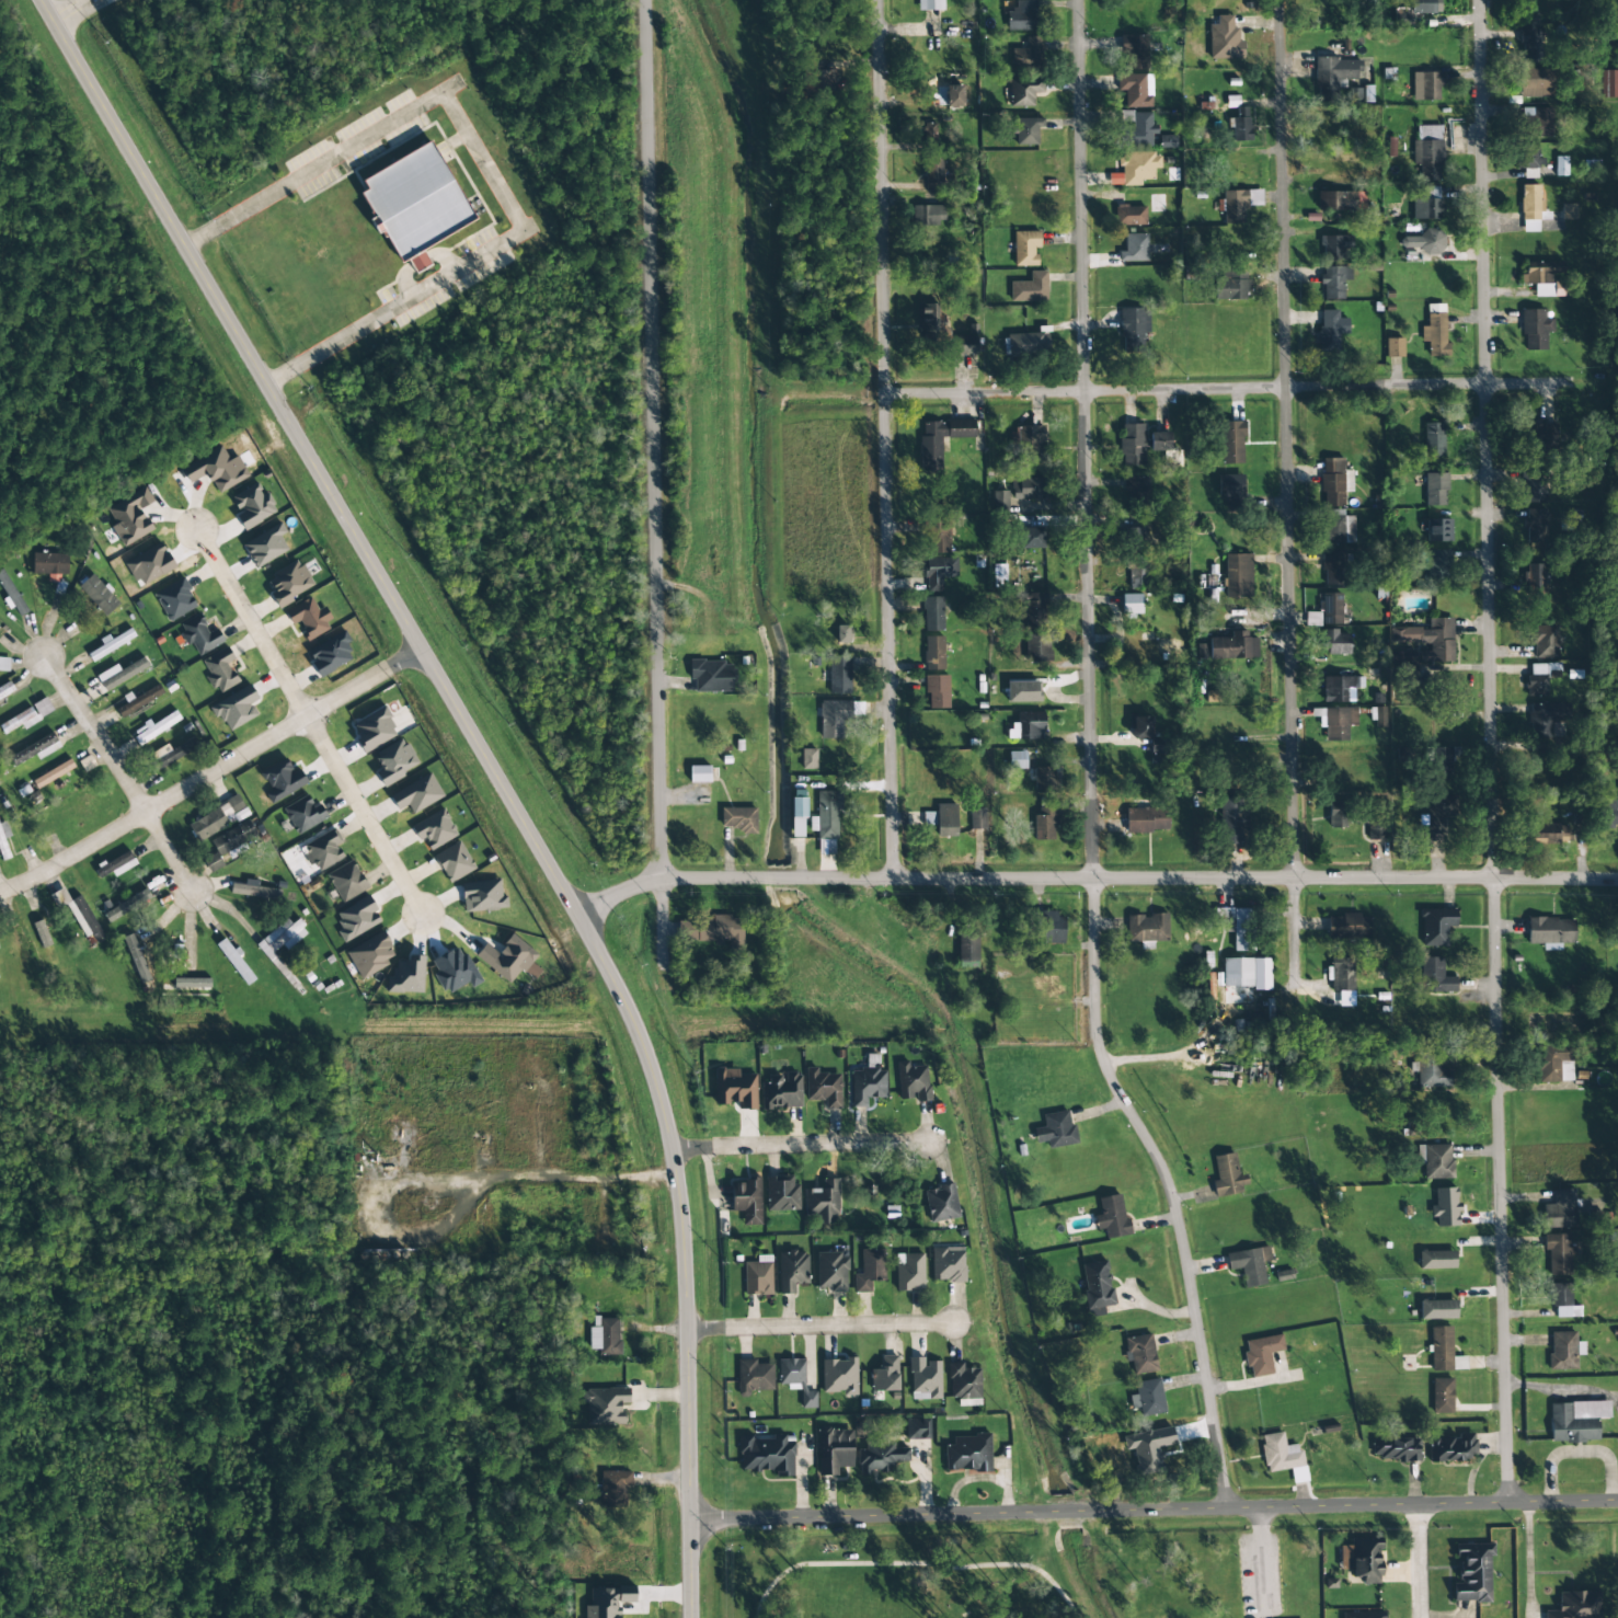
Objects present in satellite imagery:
building: (929, 4)
building: (1424, 7)
building: (1022, 16)
building: (1224, 38)
building: (1530, 45)
building: (1135, 50)
building: (1028, 55)
building: (1333, 77)
building: (821, 81)
building: (1535, 82)
building: (1608, 83)
building: (1426, 87)
building: (1135, 90)
building: (1023, 92)
building: (954, 95)
building: (1231, 101)
building: (1537, 123)
building: (1240, 125)
building: (1026, 130)
building: (1139, 130)
building: (929, 133)
building: (1427, 152)
building: (1528, 156)
building: (1561, 167)
building: (1136, 169)
building: (933, 170)
building: (1529, 173)
building: (1156, 200)
building: (416, 204)
building: (1426, 204)
building: (1237, 205)
building: (1531, 208)
building: (1569, 211)
building: (928, 216)
building: (1129, 216)
building: (1424, 241)
building: (1334, 246)
building: (1025, 249)
building: (1135, 249)
building: (1334, 282)
building: (1545, 282)
building: (1231, 286)
building: (1030, 288)
building: (931, 323)
building: (1133, 329)
building: (1535, 329)
building: (1331, 330)
building: (1435, 331)
building: (1028, 342)
building: (963, 345)
building: (1393, 347)
road: (1104, 390)
building: (1544, 434)
road: (884, 439)
building: (1028, 439)
building: (1434, 440)
building: (1159, 441)
building: (1231, 443)
building: (1133, 444)
building: (931, 455)
building: (216, 469)
road: (654, 482)
building: (1334, 482)
building: (1533, 485)
building: (1230, 486)
building: (1028, 489)
building: (1435, 490)
building: (1134, 494)
road: (1287, 494)
building: (999, 502)
building: (253, 506)
building: (130, 517)
building: (1536, 527)
building: (1338, 528)
building: (1438, 530)
building: (936, 536)
building: (1032, 538)
building: (266, 546)
building: (1137, 555)
building: (50, 565)
building: (1437, 566)
building: (1332, 569)
building: (937, 572)
building: (1238, 575)
building: (1215, 577)
building: (1535, 577)
building: (289, 583)
building: (11, 595)
building: (99, 595)
building: (175, 599)
building: (1132, 604)
building: (932, 613)
building: (309, 618)
building: (1035, 630)
building: (842, 634)
building: (199, 635)
building: (1428, 640)
building: (1544, 641)
building: (1334, 642)
building: (112, 643)
building: (1228, 647)
building: (933, 653)
building: (330, 654)
building: (4, 664)
building: (1404, 664)
building: (220, 670)
building: (121, 674)
building: (839, 674)
building: (712, 676)
building: (1540, 678)
building: (1340, 688)
building: (5, 690)
building: (937, 691)
building: (1022, 691)
building: (139, 700)
building: (236, 709)
building: (27, 716)
building: (833, 718)
building: (1547, 720)
road: (309, 721)
building: (1335, 722)
building: (1026, 726)
building: (154, 727)
building: (1140, 727)
building: (375, 730)
building: (35, 749)
building: (173, 751)
road: (1491, 753)
building: (808, 759)
building: (1441, 760)
building: (394, 761)
road: (1090, 766)
road: (491, 769)
building: (1034, 771)
road: (211, 772)
building: (53, 773)
road: (119, 773)
building: (699, 774)
building: (282, 780)
building: (417, 794)
building: (1605, 813)
building: (305, 814)
building: (797, 814)
building: (1336, 815)
building: (1437, 815)
building: (217, 818)
building: (737, 819)
building: (977, 819)
building: (1045, 819)
building: (826, 821)
building: (945, 821)
building: (1147, 821)
building: (1231, 821)
building: (1376, 828)
building: (435, 829)
building: (1550, 834)
building: (233, 838)
building: (3, 841)
building: (322, 850)
building: (215, 862)
building: (454, 862)
building: (116, 865)
road: (1093, 880)
building: (346, 881)
building: (255, 891)
building: (483, 896)
building: (126, 906)
building: (79, 915)
building: (357, 919)
building: (1225, 920)
building: (1048, 926)
building: (1436, 926)
building: (1349, 927)
building: (1147, 929)
building: (711, 930)
building: (1550, 932)
building: (42, 933)
building: (280, 941)
building: (967, 945)
building: (371, 955)
building: (507, 959)
building: (236, 962)
building: (454, 971)
building: (1247, 973)
building: (406, 976)
building: (1433, 977)
building: (1342, 978)
building: (192, 983)
building: (1554, 1063)
building: (1431, 1068)
building: (911, 1082)
building: (865, 1085)
building: (823, 1088)
building: (735, 1089)
building: (780, 1091)
building: (1055, 1129)
road: (801, 1146)
building: (1437, 1161)
building: (1226, 1177)
building: (780, 1193)
building: (745, 1200)
building: (821, 1200)
building: (939, 1203)
building: (1445, 1207)
building: (1559, 1209)
building: (1111, 1216)
building: (1557, 1253)
building: (1436, 1260)
building: (945, 1264)
building: (1248, 1265)
building: (793, 1269)
building: (868, 1270)
building: (829, 1271)
building: (908, 1272)
building: (756, 1278)
building: (1095, 1287)
building: (1560, 1300)
building: (1437, 1309)
road: (822, 1327)
building: (604, 1335)
building: (1444, 1351)
building: (1561, 1351)
building: (1260, 1354)
building: (1139, 1355)
building: (883, 1374)
building: (837, 1375)
building: (753, 1376)
building: (923, 1376)
building: (794, 1379)
building: (963, 1381)
building: (1441, 1396)
building: (1148, 1397)
building: (605, 1405)
building: (1574, 1421)
building: (917, 1428)
building: (1161, 1445)
building: (1395, 1449)
building: (1451, 1449)
building: (836, 1450)
building: (765, 1453)
building: (966, 1453)
building: (1277, 1454)
building: (877, 1456)
building: (1299, 1474)
building: (612, 1489)
road: (1154, 1510)
road: (934, 1556)
building: (1363, 1559)
road: (1419, 1561)
park: (1006, 1565)
building: (1471, 1572)
building: (608, 1602)
building: (1574, 1605)
building: (1362, 1615)

